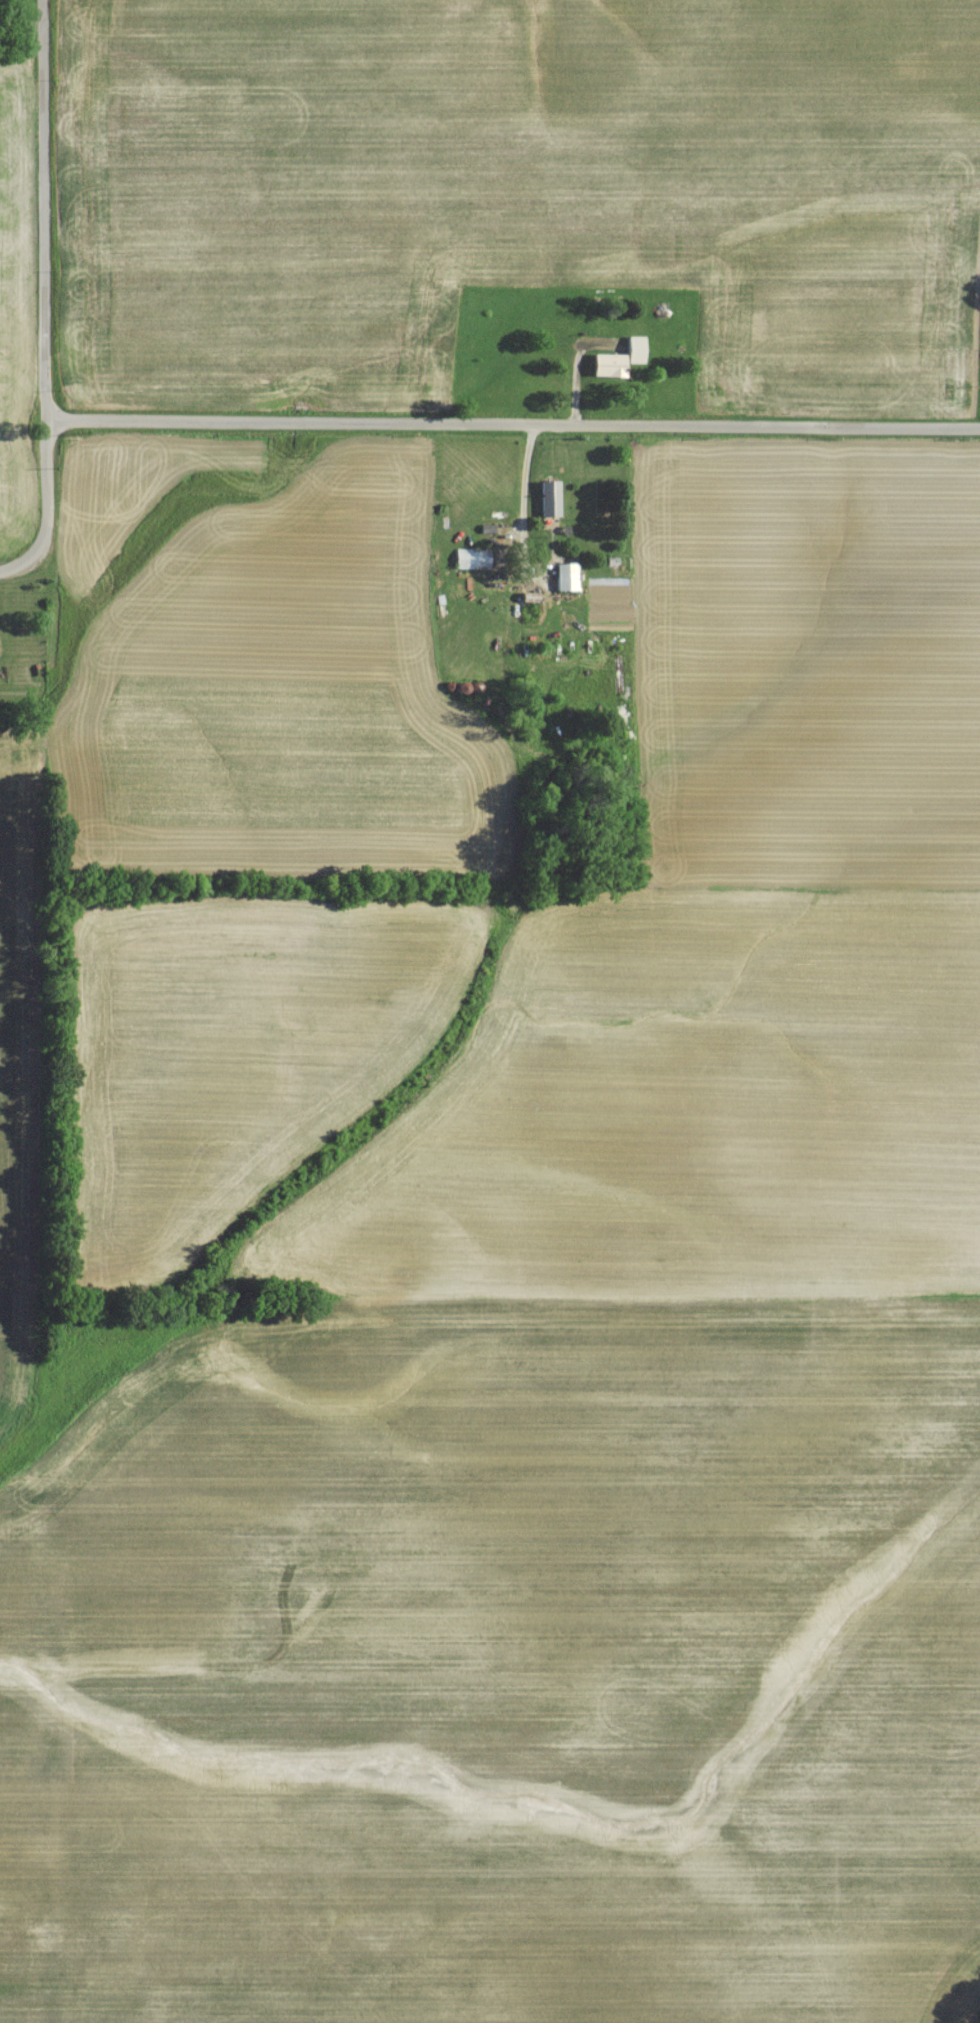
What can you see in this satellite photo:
road: (40, 211)
building: (619, 364)
road: (511, 428)
road: (524, 502)
building: (550, 504)
road: (45, 509)
building: (471, 564)
building: (567, 582)

